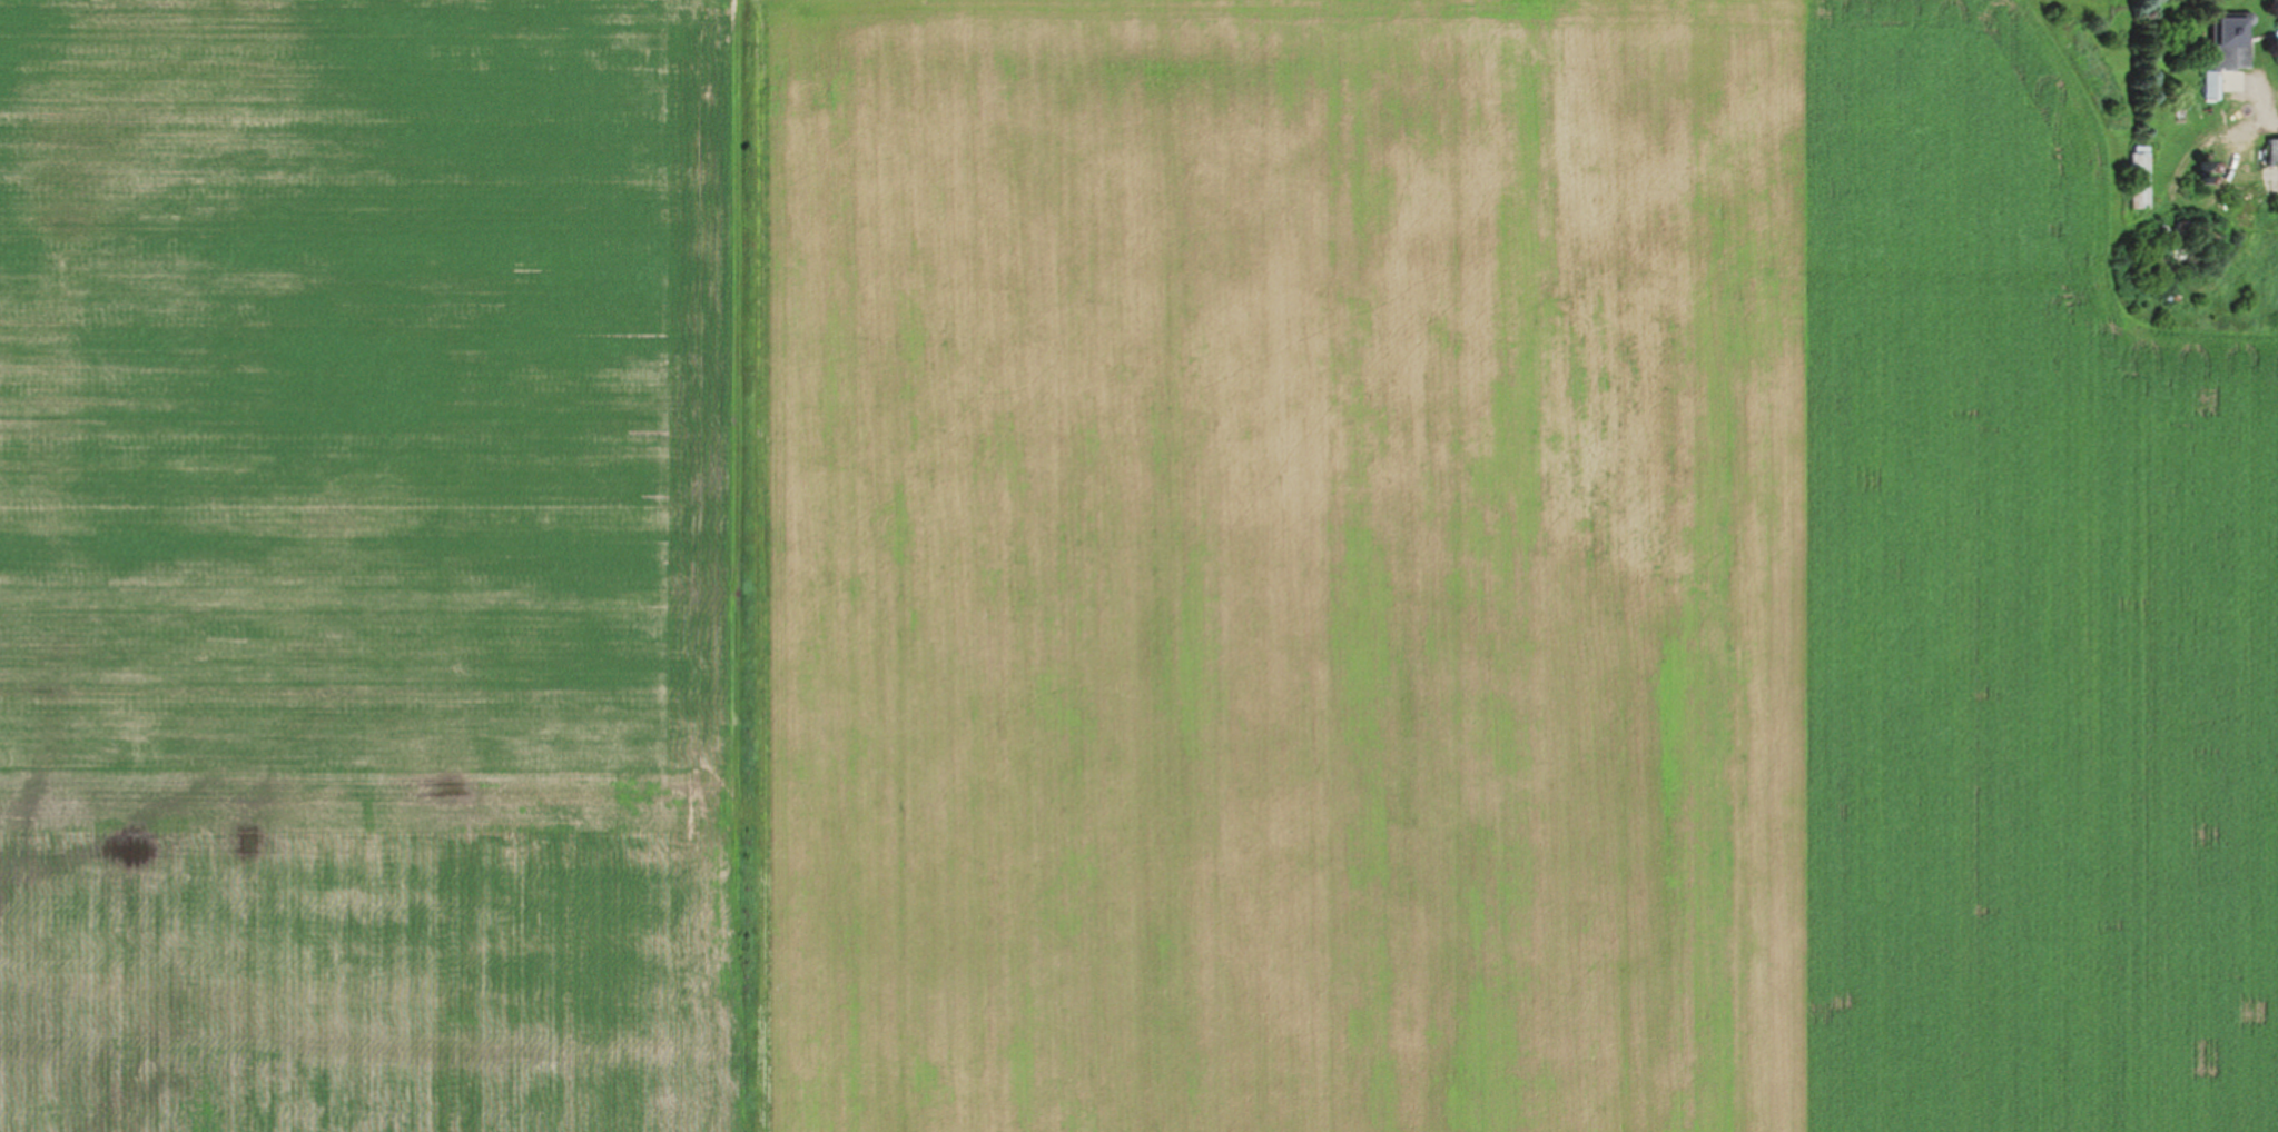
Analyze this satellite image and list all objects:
building: (2225, 42)
road: (2259, 99)
building: (2270, 153)
building: (2140, 180)

